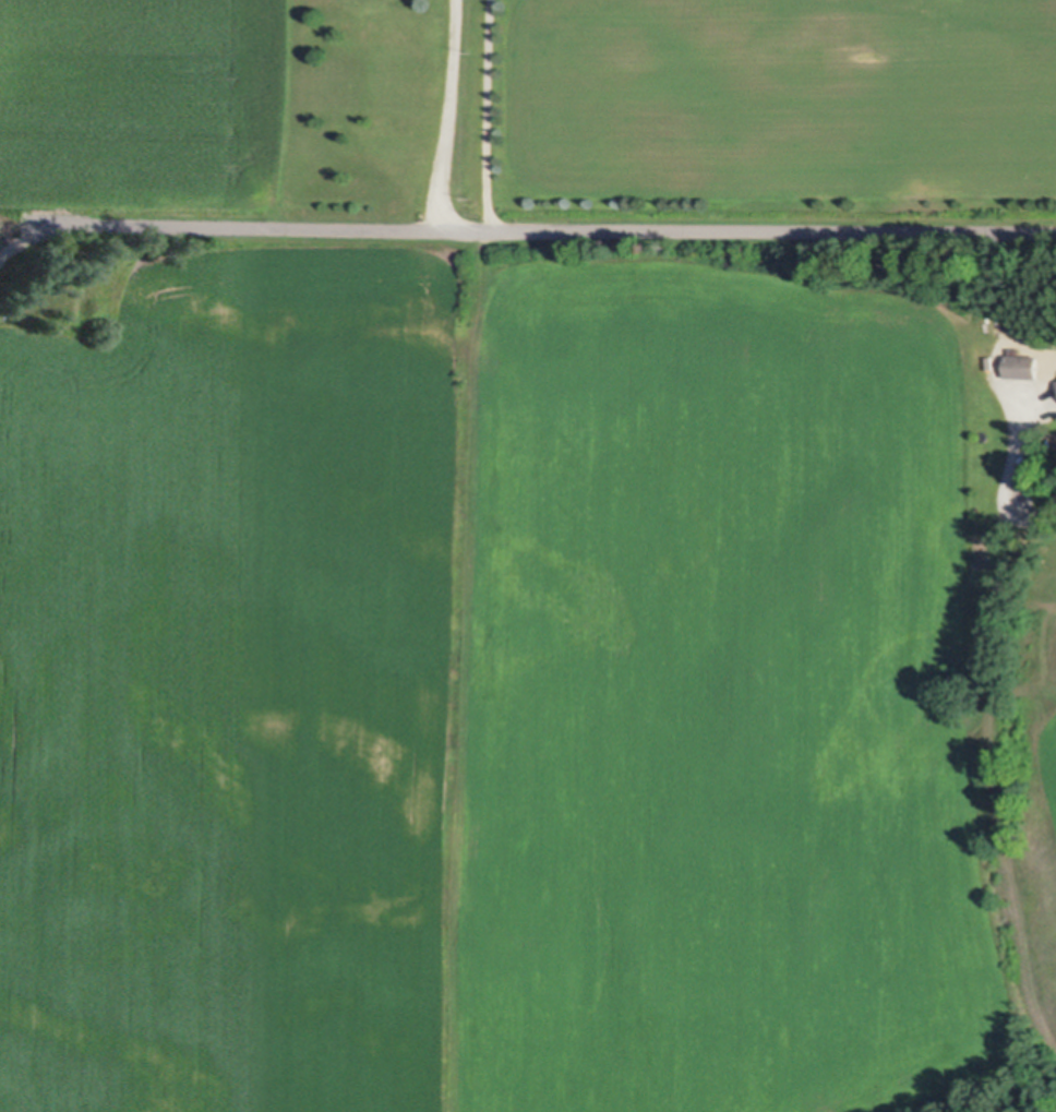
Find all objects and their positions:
road: (448, 112)
road: (574, 226)
building: (1003, 328)
building: (1015, 349)
building: (991, 361)
building: (1023, 368)

